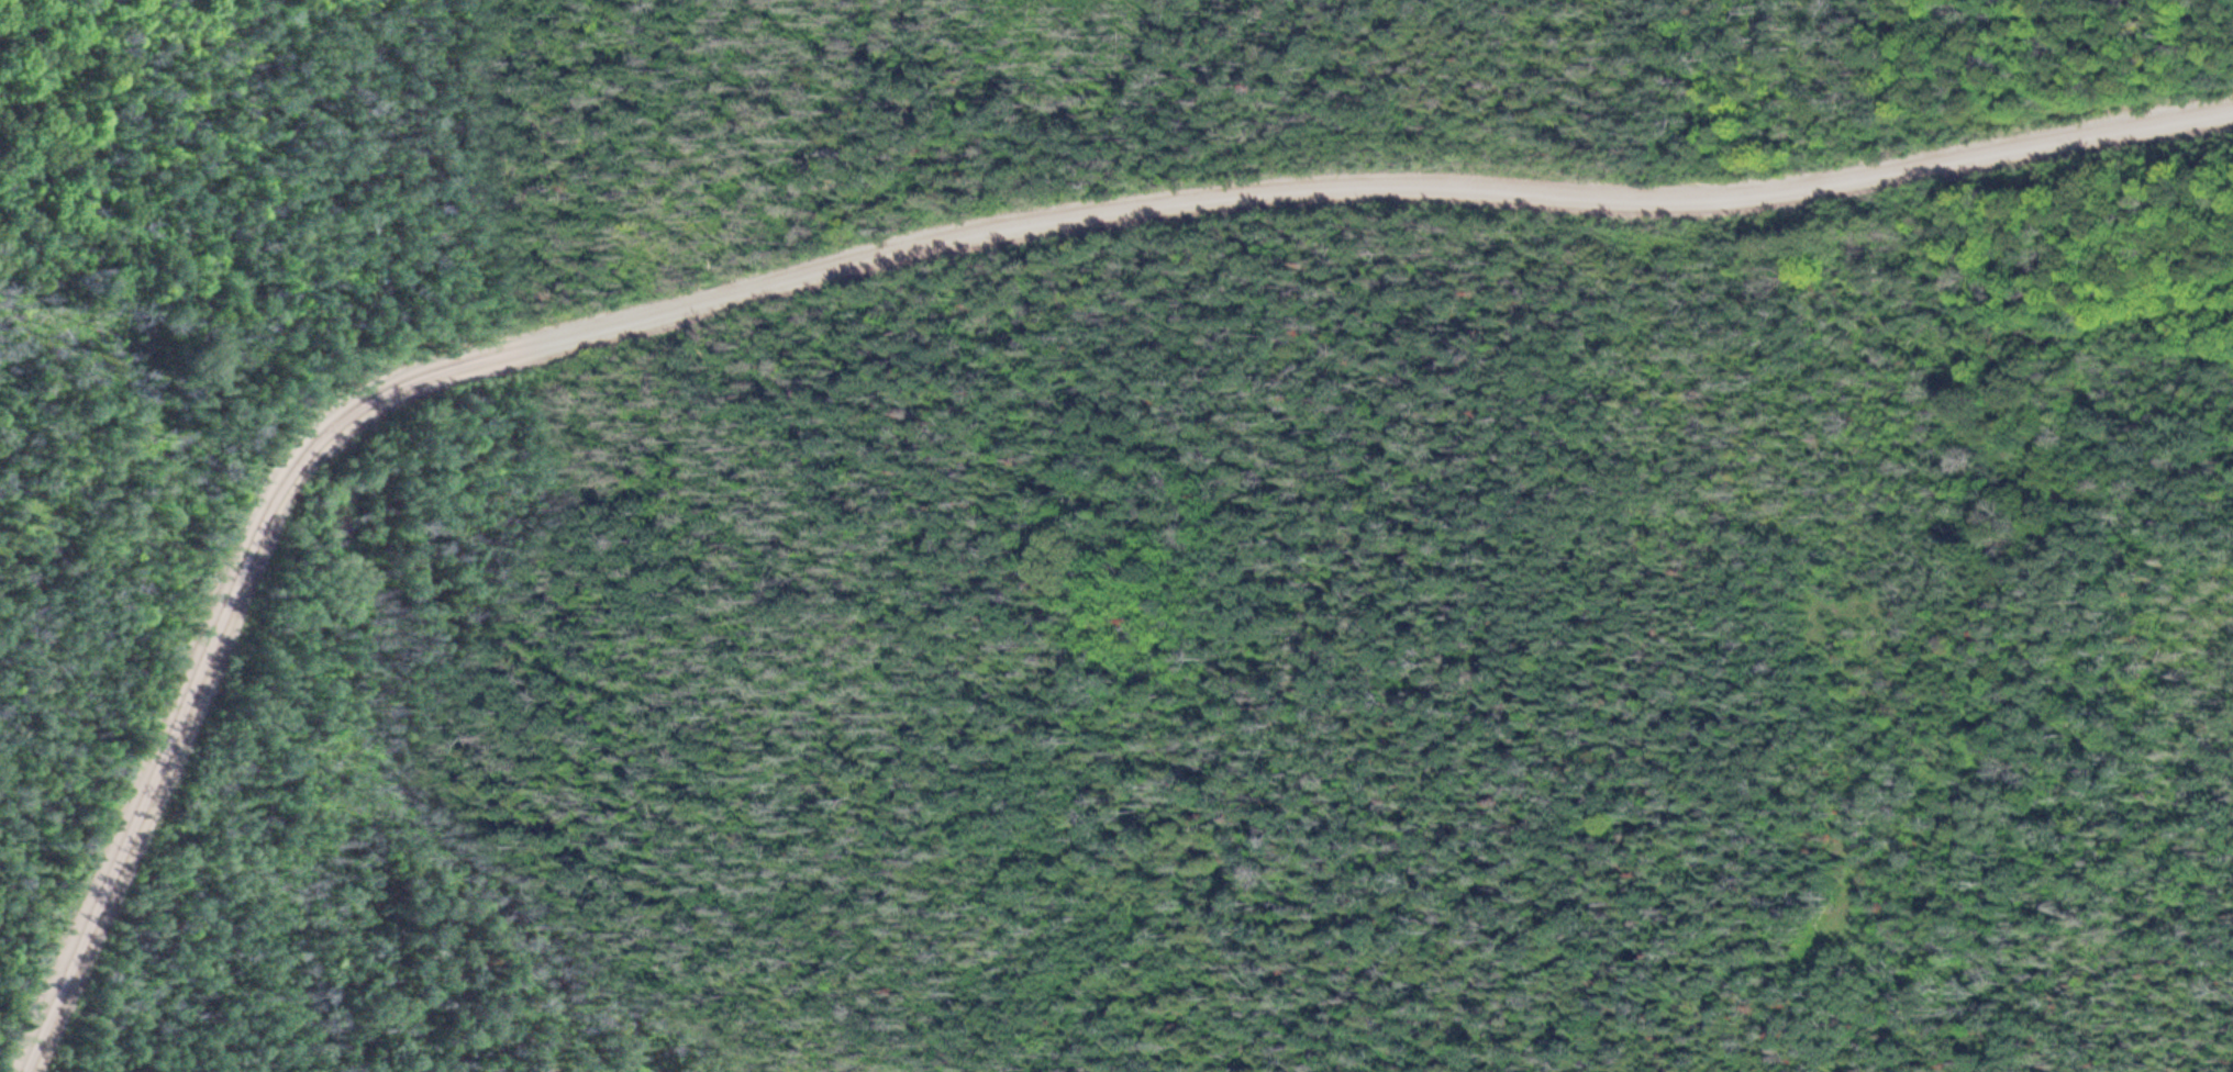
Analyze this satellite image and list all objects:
park: (377, 139)

